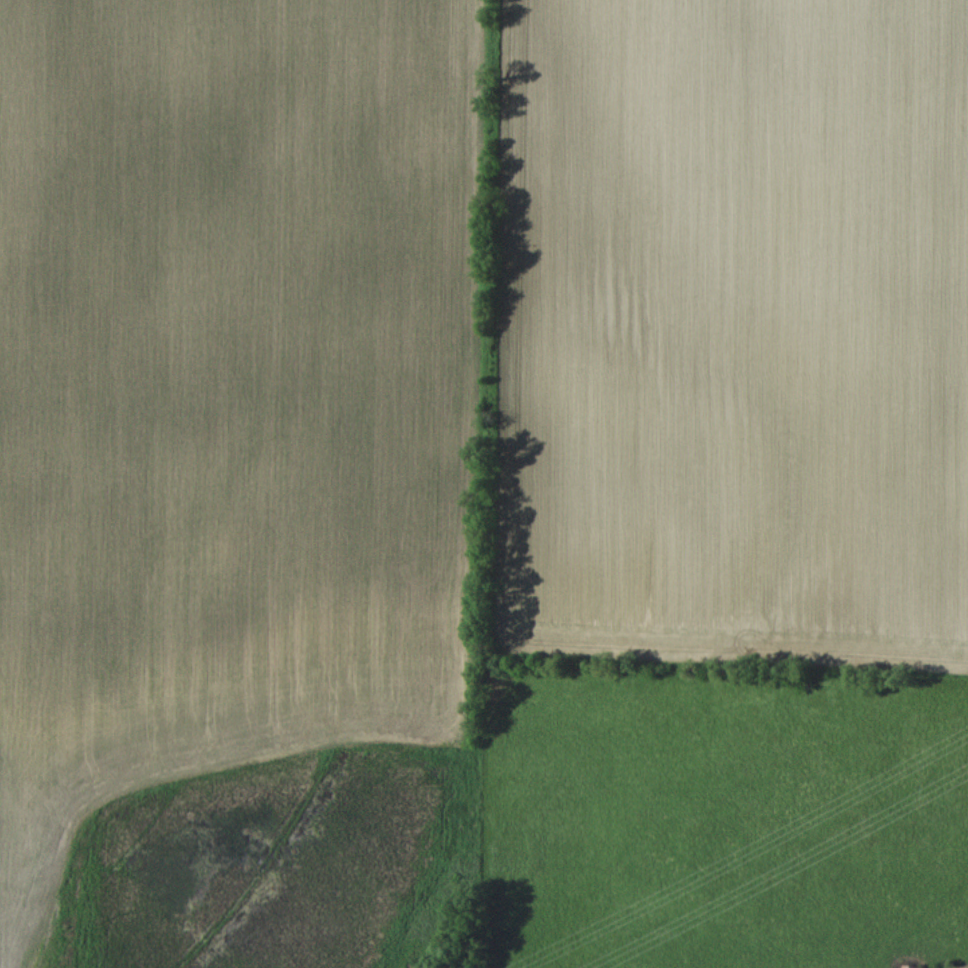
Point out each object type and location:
crop: (728, 330)
crop: (233, 396)
building: (912, 966)

